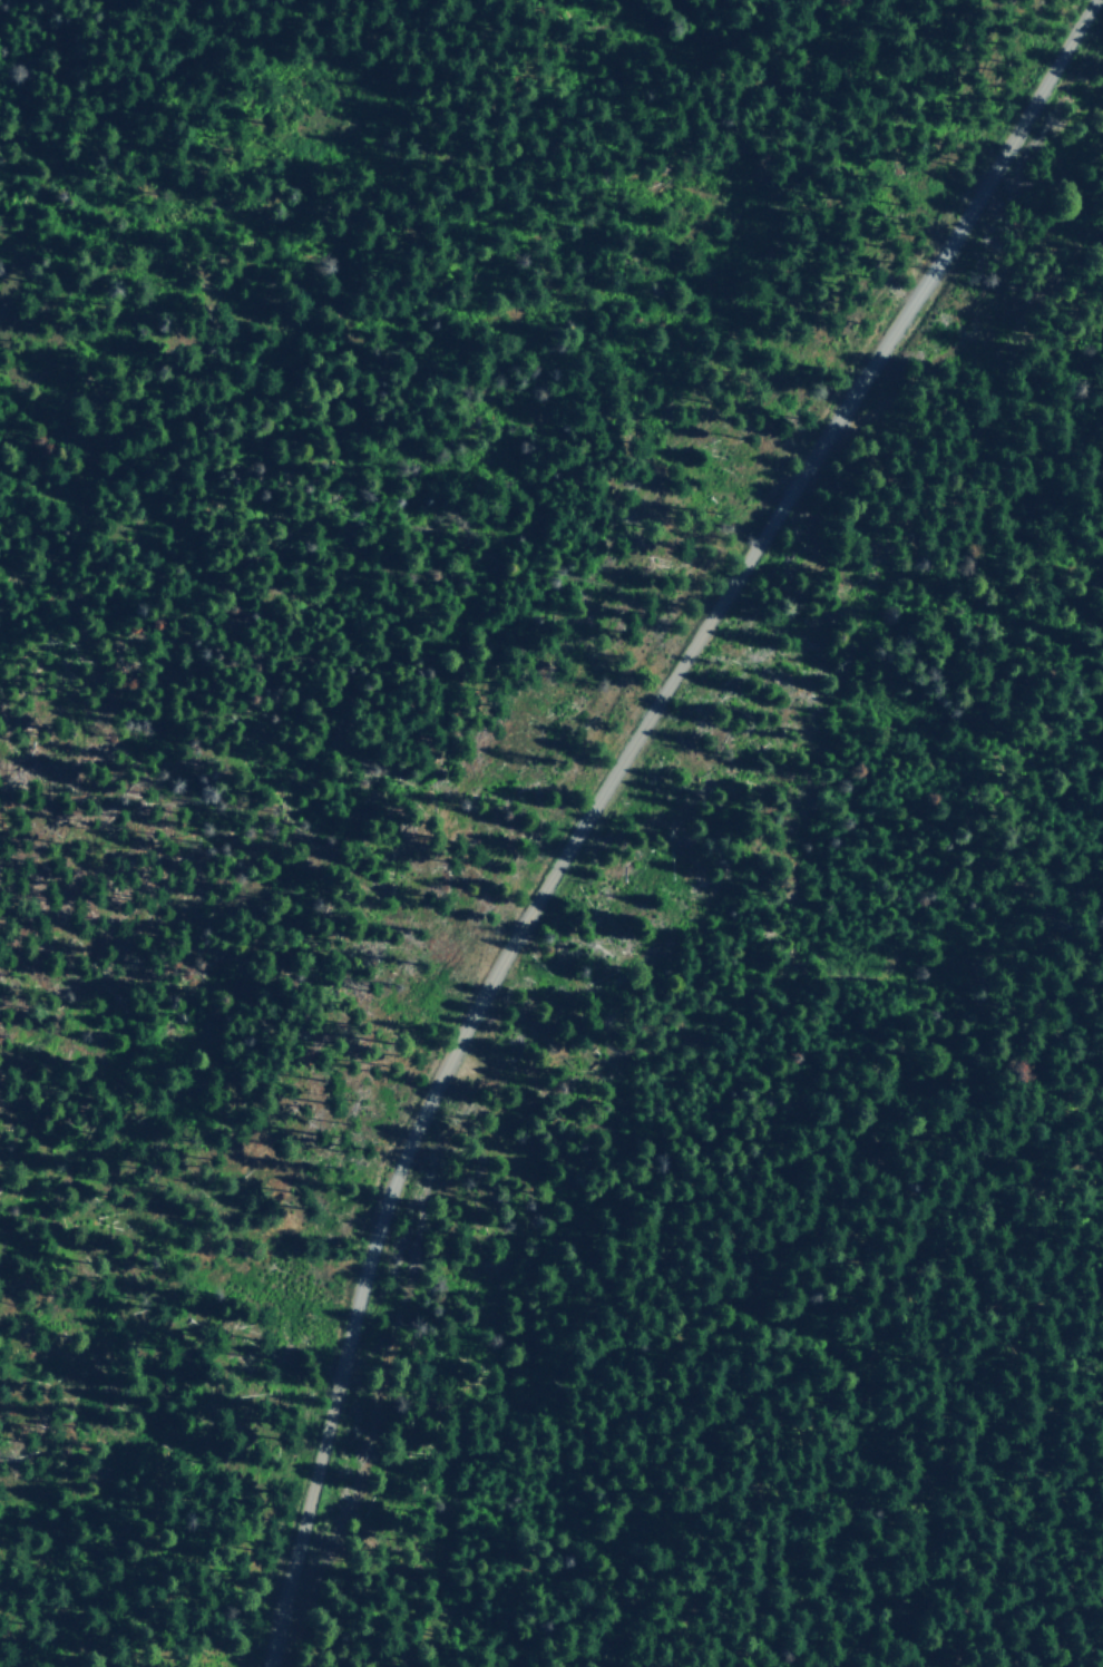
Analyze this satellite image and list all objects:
road: (110, 175)
road: (972, 341)
road: (602, 797)

